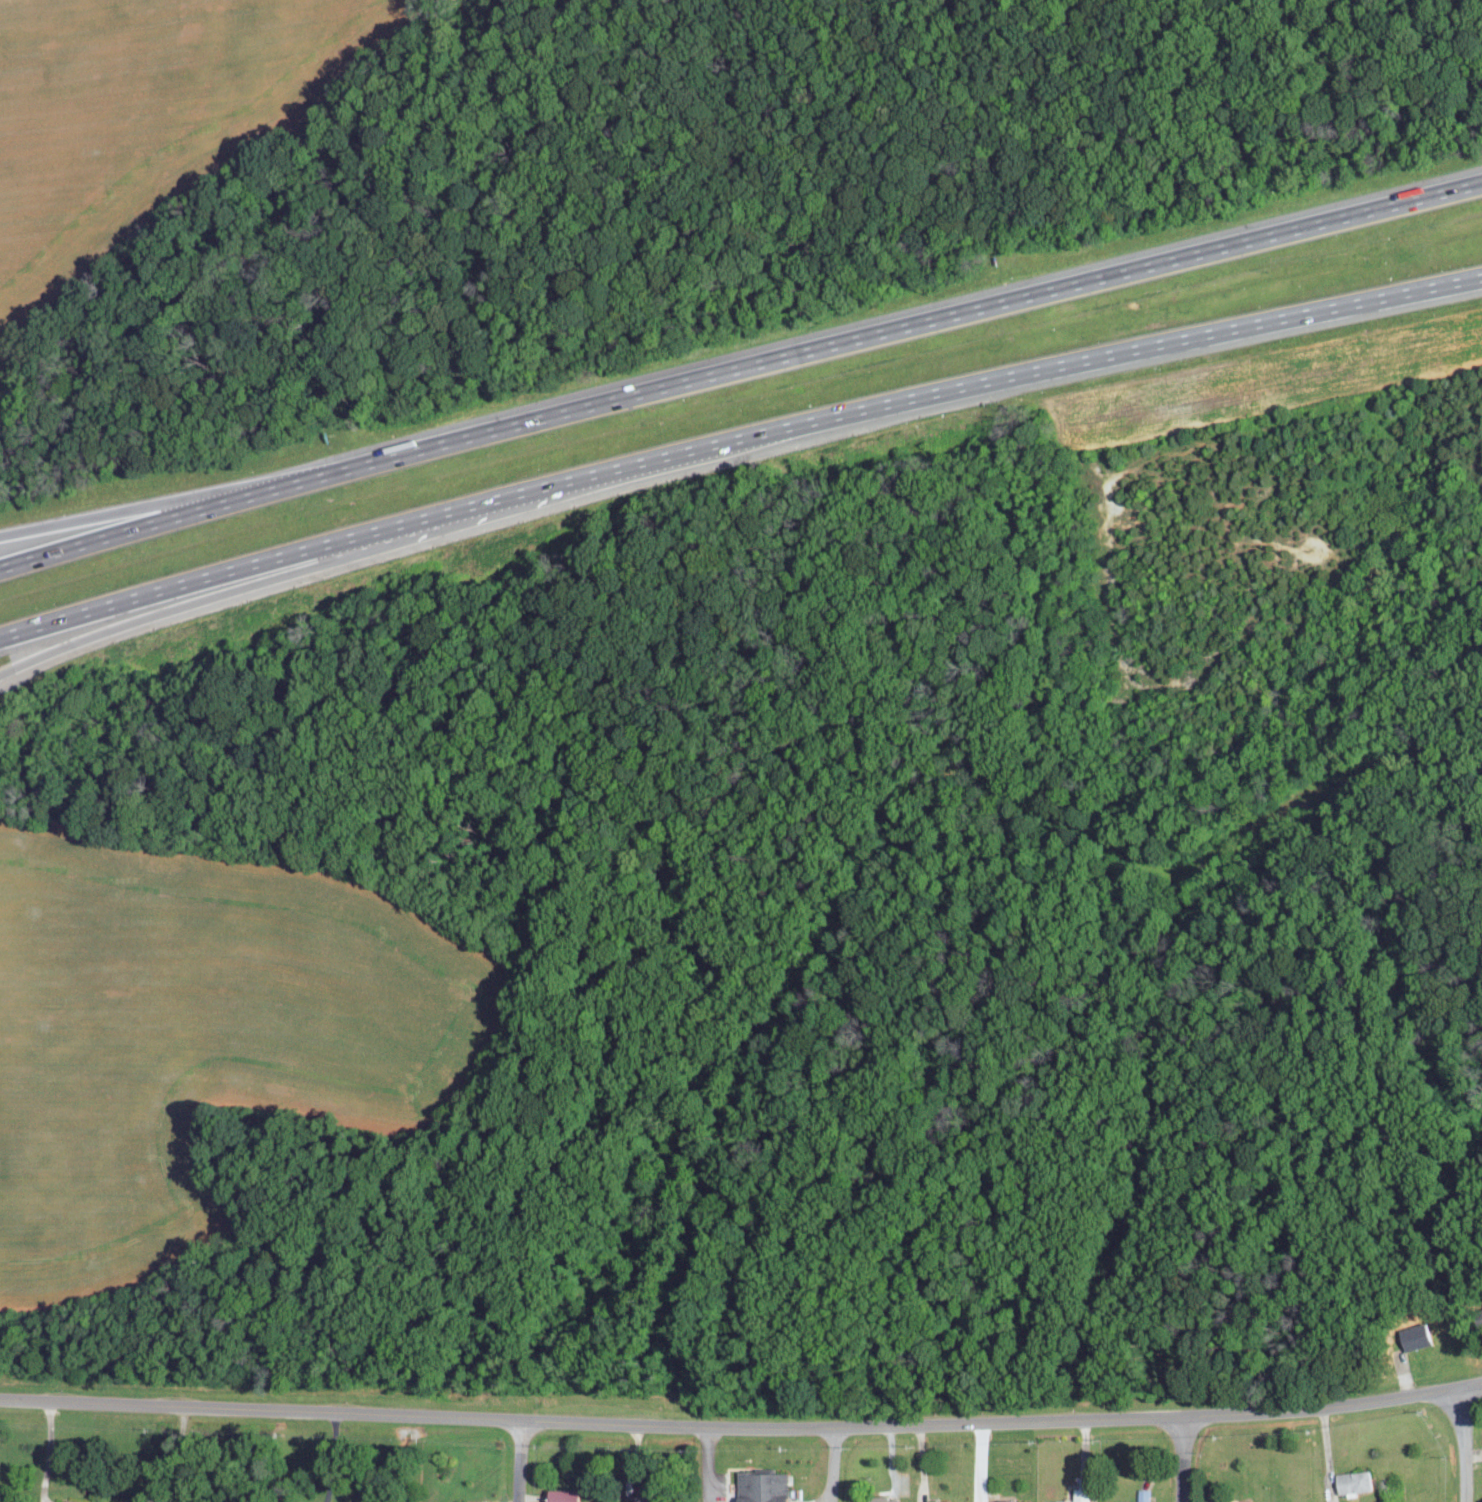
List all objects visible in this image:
crop: (138, 121)
road: (739, 374)
road: (736, 443)
road: (201, 498)
road: (111, 634)
building: (1412, 1336)
road: (741, 1426)
road: (1459, 1445)
road: (1326, 1450)
road: (49, 1452)
road: (174, 1455)
road: (334, 1458)
road: (1189, 1460)
road: (521, 1462)
road: (707, 1464)
road: (833, 1465)
building: (1350, 1481)
building: (757, 1486)
building: (1081, 1495)
building: (560, 1496)
building: (1141, 1496)
building: (878, 1498)
building: (76, 1501)
building: (100, 1501)
building: (486, 1501)
building: (1005, 1501)

